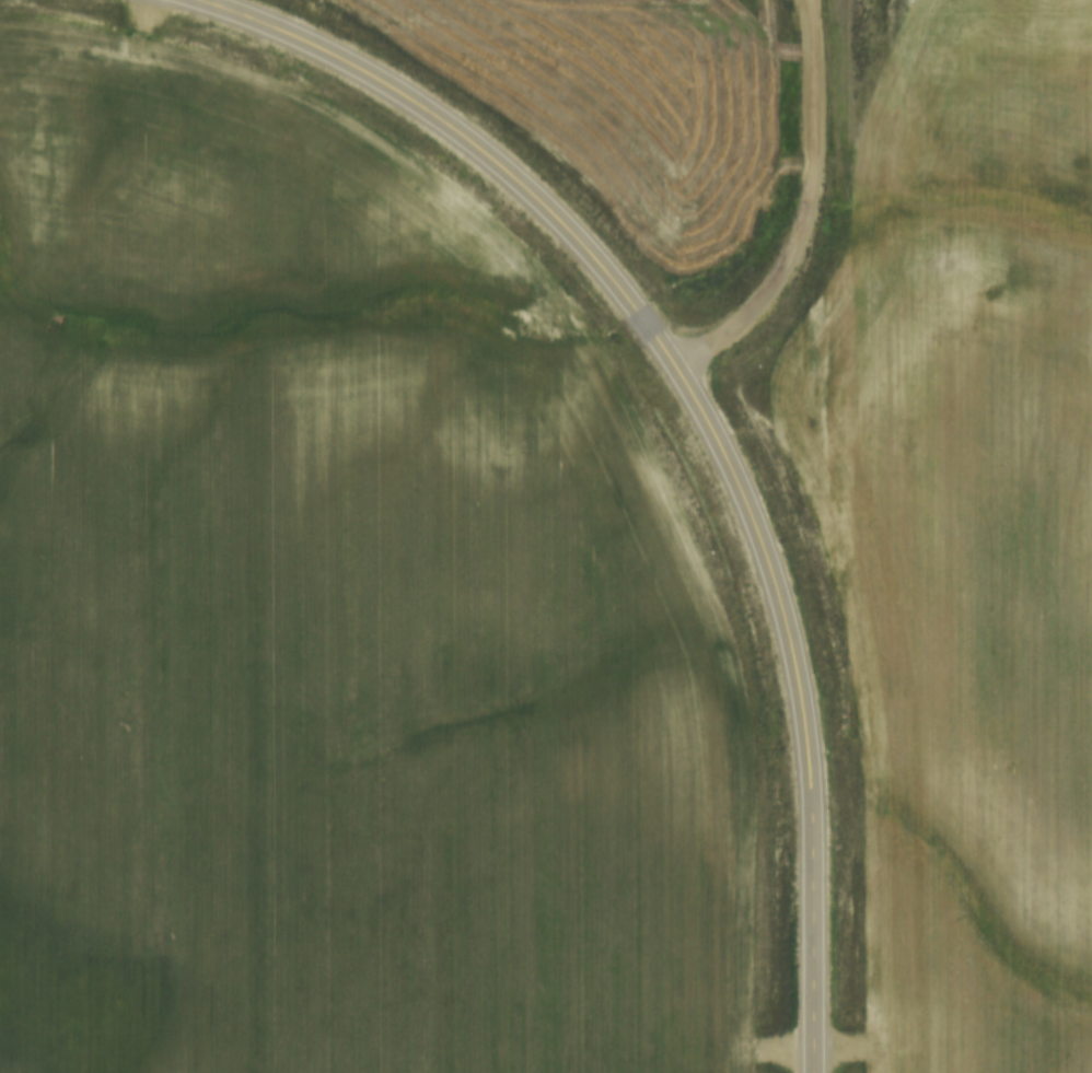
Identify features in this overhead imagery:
road: (812, 536)

